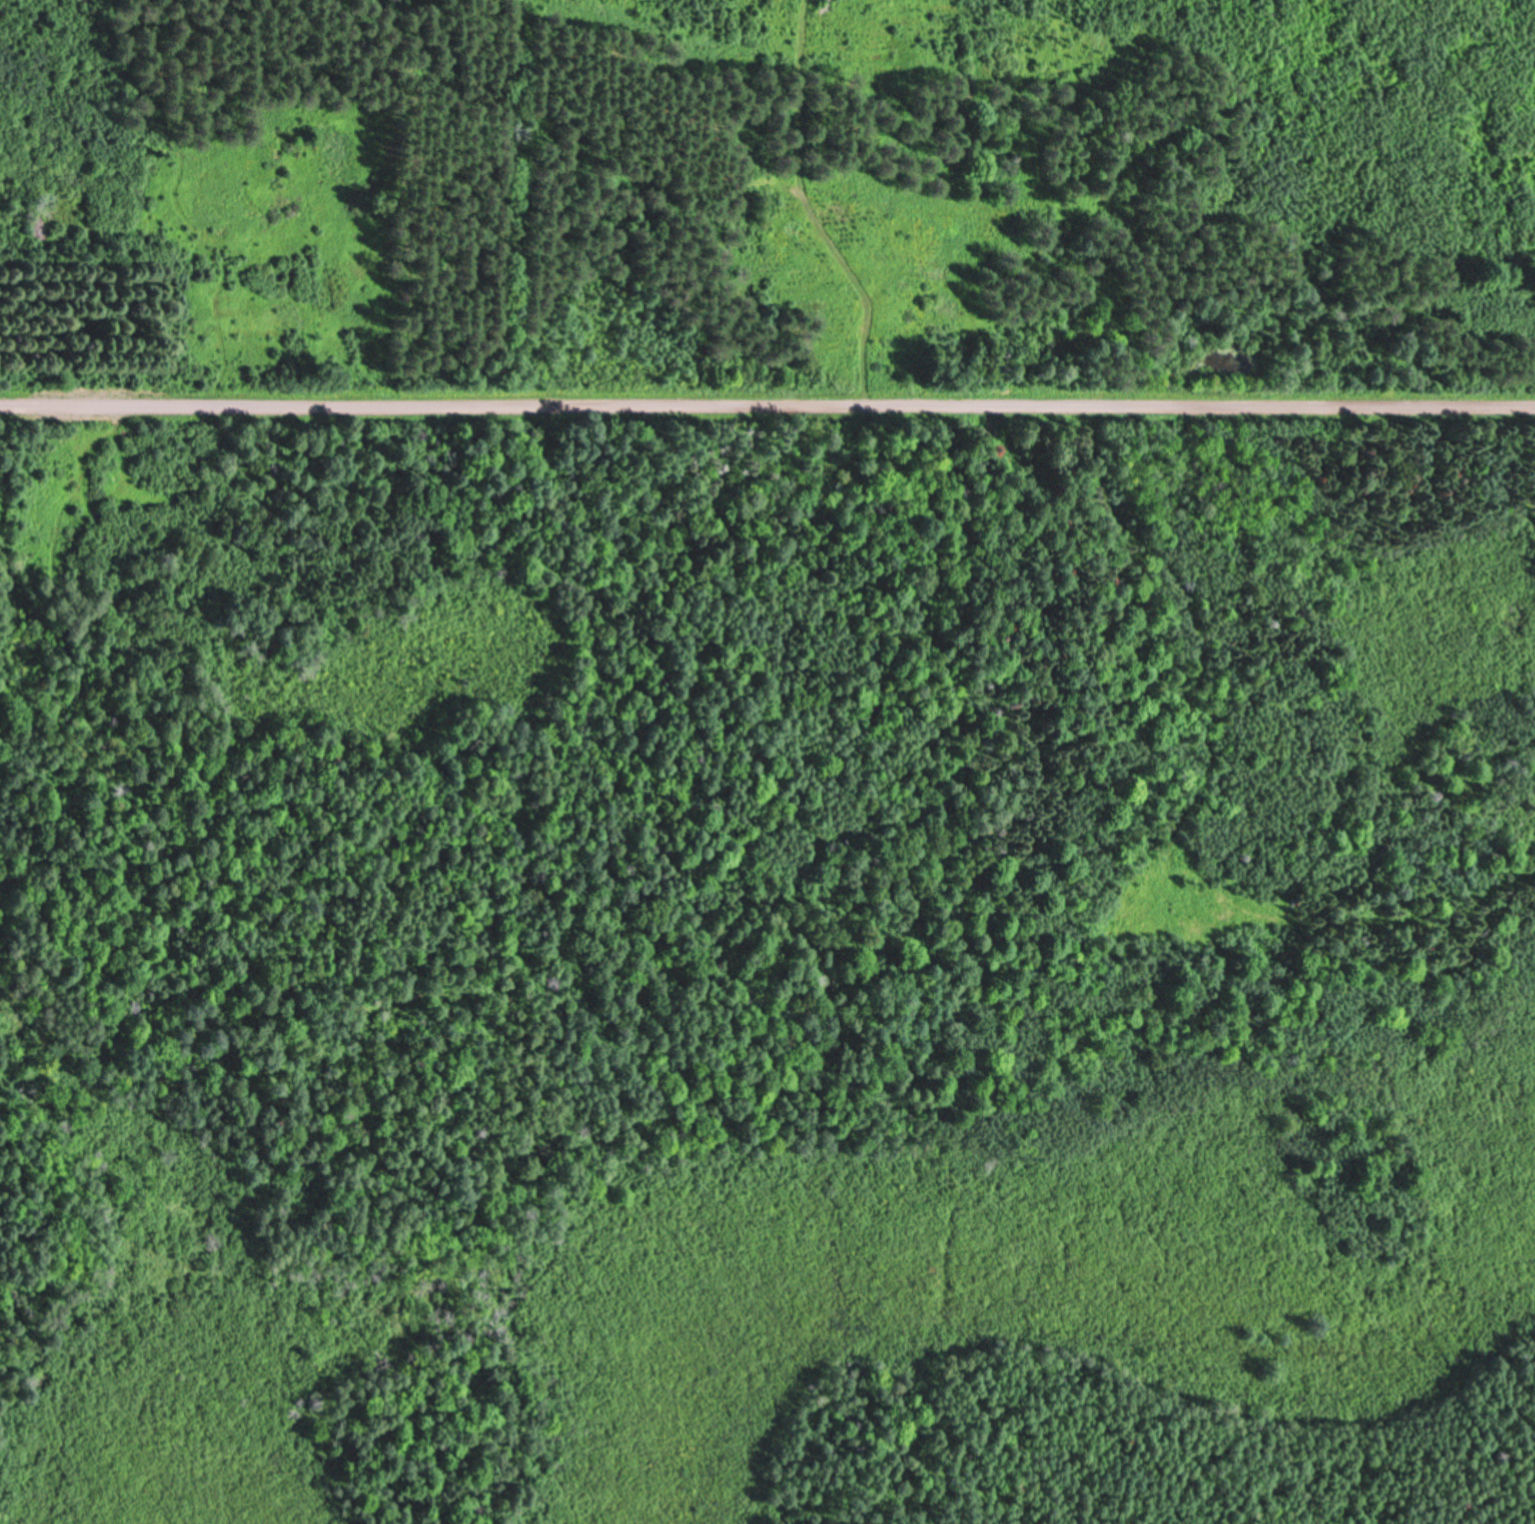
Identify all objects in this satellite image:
road: (767, 397)

